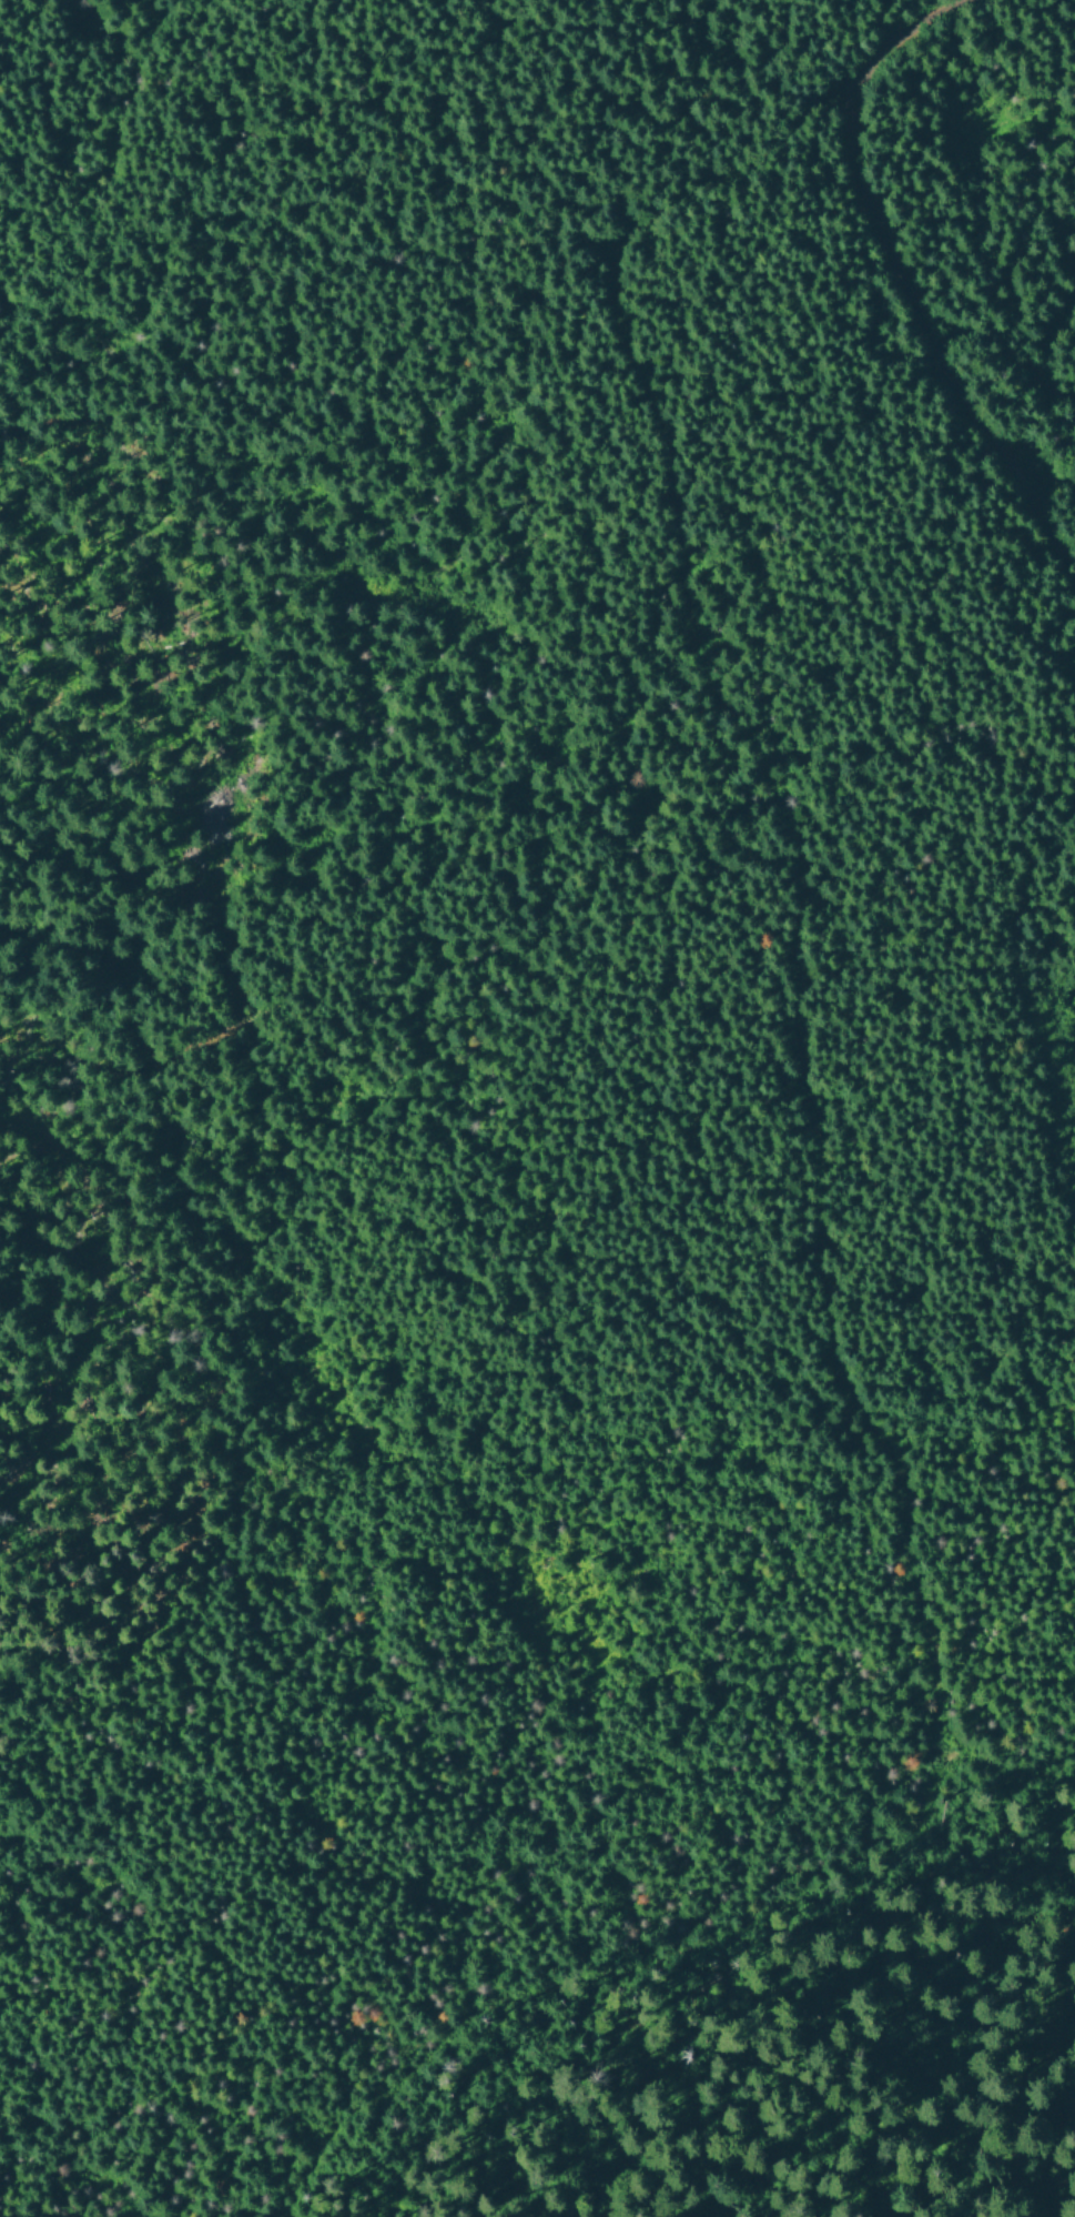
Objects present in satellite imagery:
road: (899, 280)
road: (732, 717)

